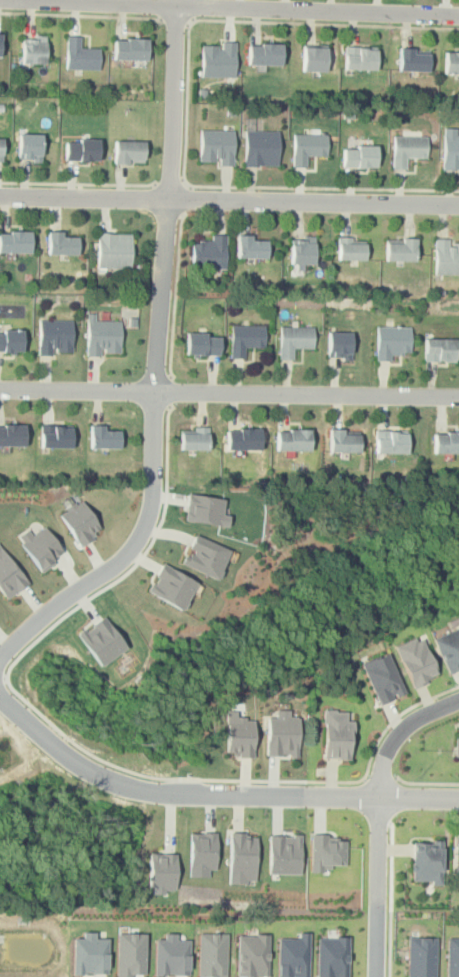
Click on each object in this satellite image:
road: (229, 8)
road: (82, 14)
road: (175, 20)
building: (0, 44)
building: (131, 49)
building: (34, 52)
building: (266, 55)
building: (81, 56)
building: (361, 59)
building: (218, 60)
building: (315, 60)
building: (414, 61)
building: (451, 63)
road: (187, 105)
building: (30, 147)
building: (217, 147)
building: (308, 148)
building: (1, 149)
building: (82, 149)
building: (262, 149)
building: (407, 150)
building: (130, 152)
building: (451, 152)
building: (360, 157)
road: (169, 182)
road: (78, 184)
road: (185, 200)
road: (229, 200)
building: (16, 242)
building: (62, 243)
building: (251, 247)
building: (351, 249)
building: (401, 249)
building: (114, 251)
building: (303, 252)
building: (209, 253)
building: (447, 257)
road: (175, 293)
building: (56, 337)
building: (104, 337)
building: (246, 339)
building: (295, 339)
building: (12, 340)
building: (394, 341)
building: (204, 344)
building: (342, 345)
building: (442, 349)
road: (157, 366)
road: (172, 392)
road: (229, 393)
building: (13, 435)
building: (56, 436)
building: (105, 437)
building: (195, 438)
building: (245, 439)
building: (294, 440)
building: (345, 441)
building: (393, 442)
building: (447, 442)
building: (206, 509)
building: (79, 520)
building: (41, 547)
building: (206, 556)
building: (10, 575)
building: (172, 586)
building: (102, 641)
building: (449, 649)
building: (417, 660)
road: (3, 674)
building: (384, 678)
road: (21, 696)
road: (396, 717)
building: (238, 734)
building: (282, 734)
building: (337, 734)
building: (457, 746)
road: (381, 778)
road: (426, 783)
road: (212, 794)
road: (376, 817)
building: (328, 852)
building: (201, 853)
building: (285, 854)
building: (457, 855)
building: (242, 859)
building: (427, 862)
building: (161, 872)
road: (390, 944)
building: (89, 954)
building: (129, 954)
building: (212, 954)
building: (171, 955)
building: (252, 955)
building: (294, 956)
building: (422, 956)
building: (332, 957)
building: (453, 957)

